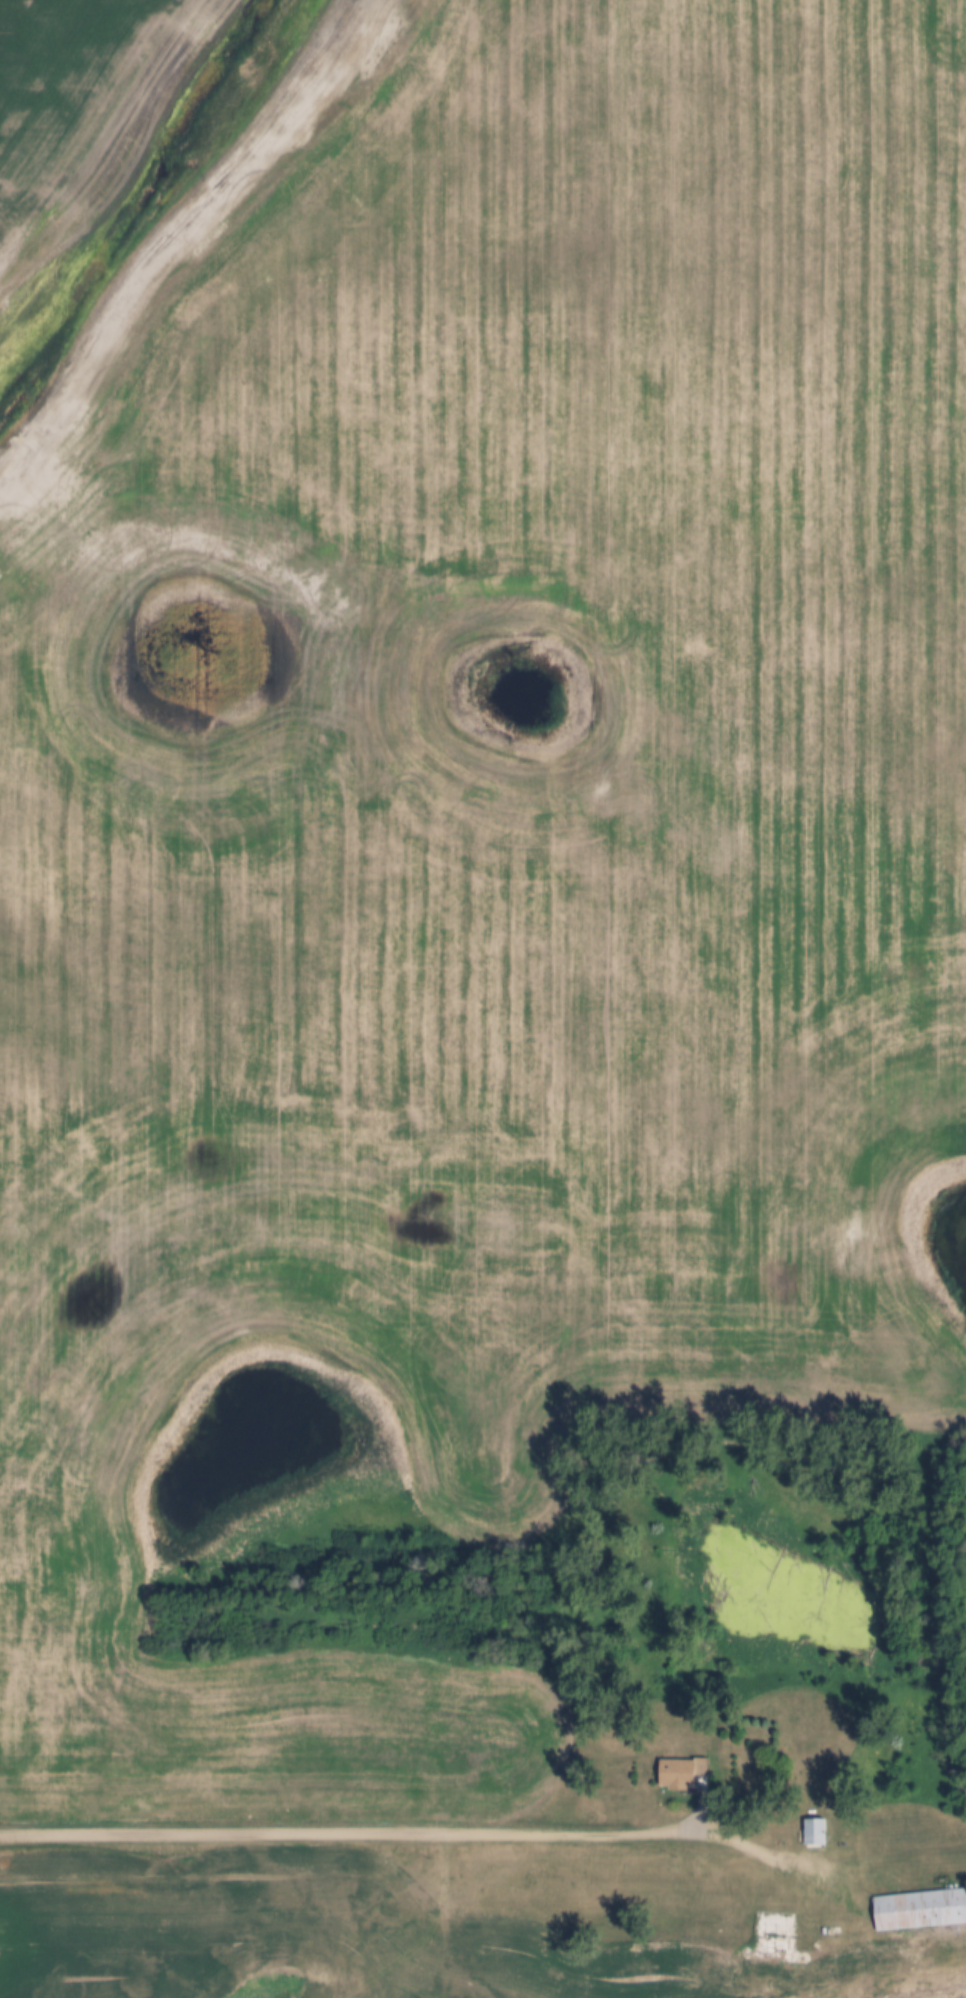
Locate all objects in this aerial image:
building: (407, 1738)
building: (677, 1774)
building: (814, 1833)
road: (375, 1834)
building: (918, 1909)

